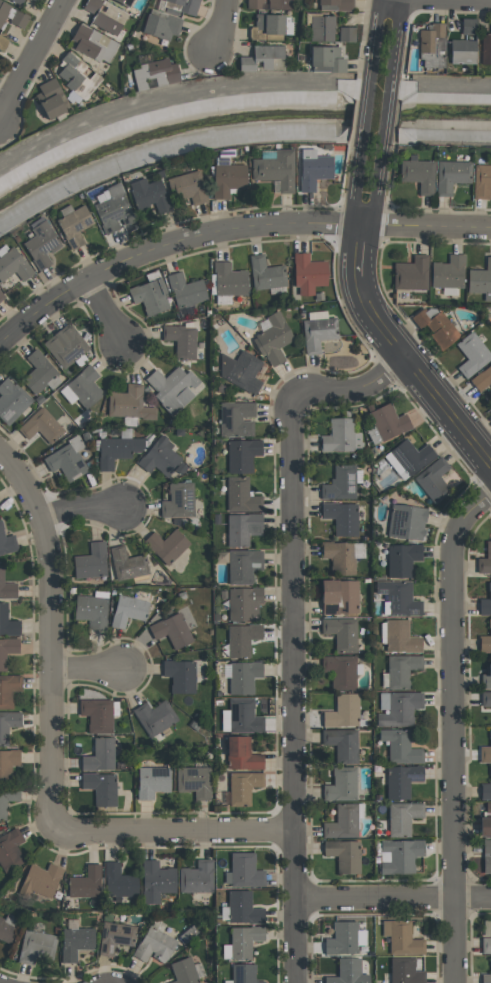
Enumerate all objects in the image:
building: (37, 0)
building: (17, 1)
building: (124, 2)
building: (254, 4)
building: (279, 4)
building: (338, 4)
building: (185, 5)
building: (3, 11)
building: (105, 15)
building: (18, 19)
building: (160, 26)
road: (219, 26)
building: (266, 26)
building: (467, 26)
building: (321, 27)
building: (346, 33)
building: (2, 42)
road: (382, 42)
building: (93, 43)
building: (431, 46)
building: (485, 47)
building: (461, 51)
road: (32, 57)
building: (263, 58)
building: (325, 59)
building: (154, 71)
building: (76, 76)
building: (50, 98)
road: (373, 117)
building: (274, 169)
building: (312, 169)
building: (417, 174)
building: (450, 175)
building: (226, 178)
building: (481, 180)
building: (186, 187)
building: (147, 194)
building: (112, 208)
building: (73, 225)
road: (230, 230)
building: (40, 243)
building: (13, 264)
building: (447, 272)
building: (265, 273)
building: (308, 273)
building: (410, 273)
building: (229, 279)
building: (480, 279)
building: (185, 290)
building: (1, 295)
building: (149, 295)
road: (103, 312)
road: (378, 324)
building: (435, 326)
building: (317, 333)
building: (272, 338)
building: (181, 339)
building: (65, 345)
building: (471, 354)
building: (240, 370)
building: (39, 373)
building: (482, 378)
building: (84, 386)
building: (171, 387)
building: (11, 400)
building: (129, 403)
building: (489, 411)
building: (236, 418)
building: (385, 423)
building: (41, 425)
building: (340, 436)
building: (116, 449)
building: (241, 454)
building: (410, 455)
building: (159, 457)
building: (66, 459)
building: (433, 480)
building: (339, 483)
building: (240, 494)
building: (178, 500)
road: (84, 511)
building: (341, 517)
building: (405, 522)
building: (242, 528)
building: (6, 541)
building: (165, 545)
building: (339, 556)
building: (401, 559)
building: (485, 559)
building: (90, 561)
building: (127, 563)
building: (242, 565)
building: (7, 588)
building: (338, 596)
building: (398, 597)
building: (485, 601)
building: (243, 603)
building: (91, 610)
building: (127, 610)
building: (7, 622)
road: (289, 626)
building: (171, 629)
building: (341, 633)
road: (51, 636)
building: (399, 636)
building: (241, 638)
building: (485, 639)
building: (7, 649)
road: (90, 667)
building: (400, 669)
building: (339, 670)
building: (179, 675)
building: (242, 676)
building: (486, 676)
building: (8, 689)
building: (485, 698)
building: (399, 708)
building: (342, 711)
building: (96, 714)
building: (153, 716)
building: (243, 716)
building: (7, 724)
road: (453, 731)
building: (341, 743)
building: (399, 746)
building: (485, 751)
building: (241, 754)
building: (98, 755)
building: (7, 763)
building: (400, 780)
building: (151, 781)
building: (193, 781)
building: (340, 784)
building: (242, 786)
building: (100, 787)
building: (485, 787)
building: (7, 797)
building: (488, 807)
building: (402, 817)
building: (342, 822)
building: (484, 826)
road: (172, 831)
building: (9, 849)
building: (343, 854)
building: (398, 855)
building: (486, 856)
building: (243, 870)
building: (195, 877)
building: (40, 879)
building: (155, 880)
building: (117, 881)
building: (84, 882)
road: (392, 898)
building: (242, 908)
building: (8, 926)
building: (188, 932)
building: (114, 937)
building: (400, 937)
building: (342, 938)
building: (243, 940)
building: (74, 941)
building: (154, 945)
building: (485, 945)
building: (35, 946)
building: (404, 970)
building: (183, 971)
building: (347, 972)
building: (243, 973)
building: (486, 976)

